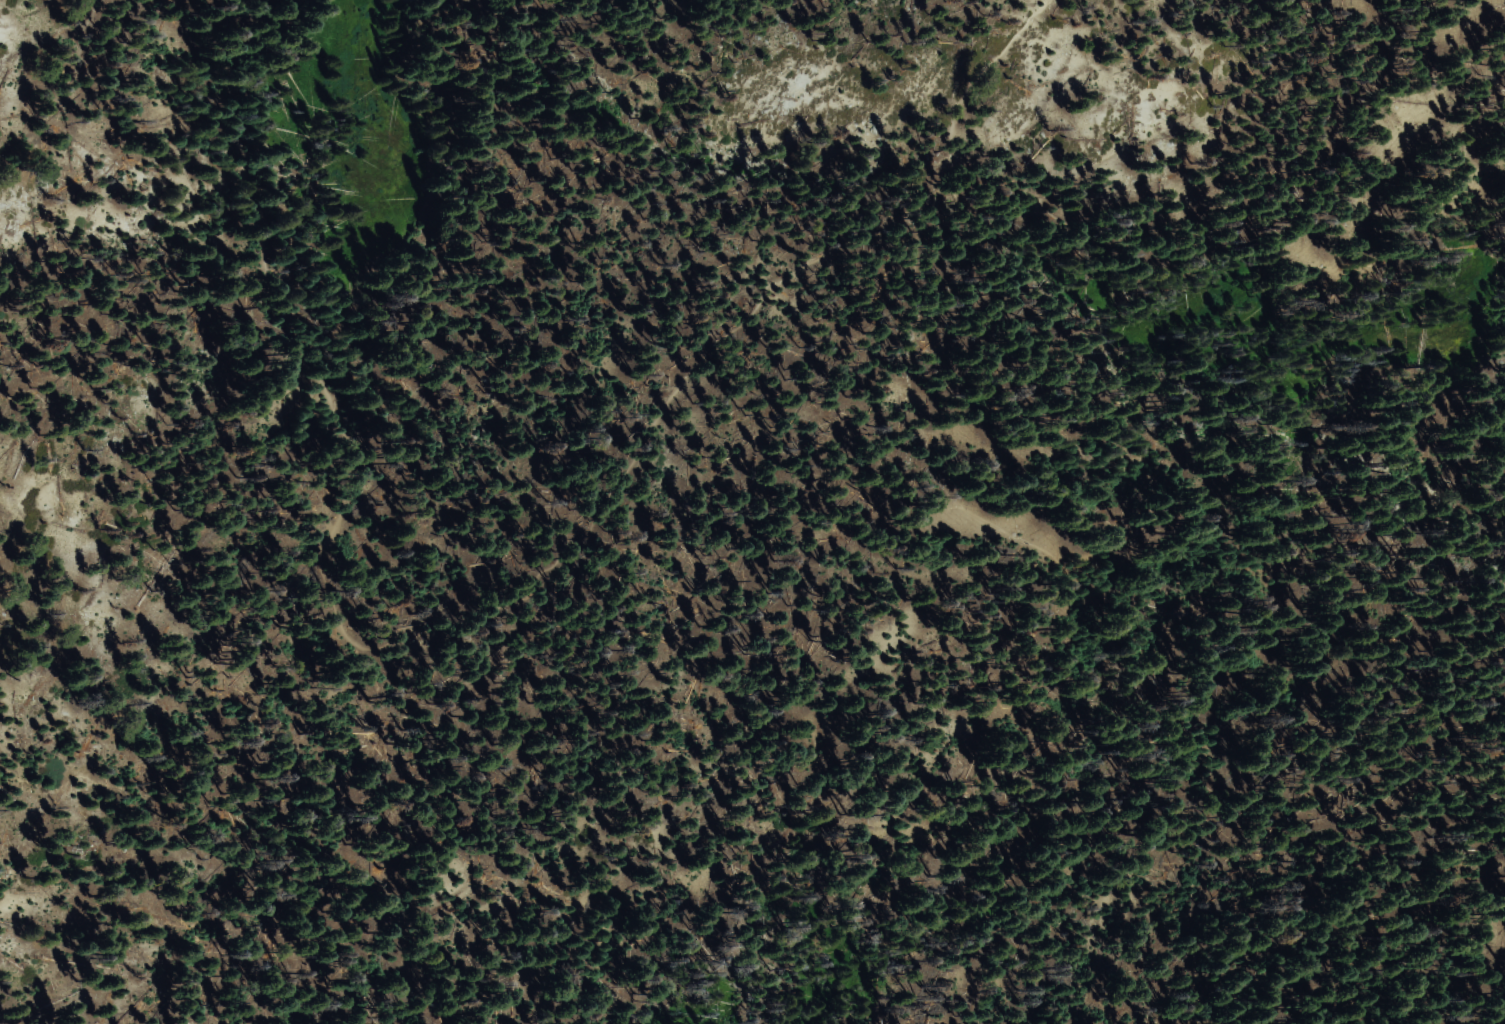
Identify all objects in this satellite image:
road: (1093, 599)
road: (501, 607)
building: (303, 968)

